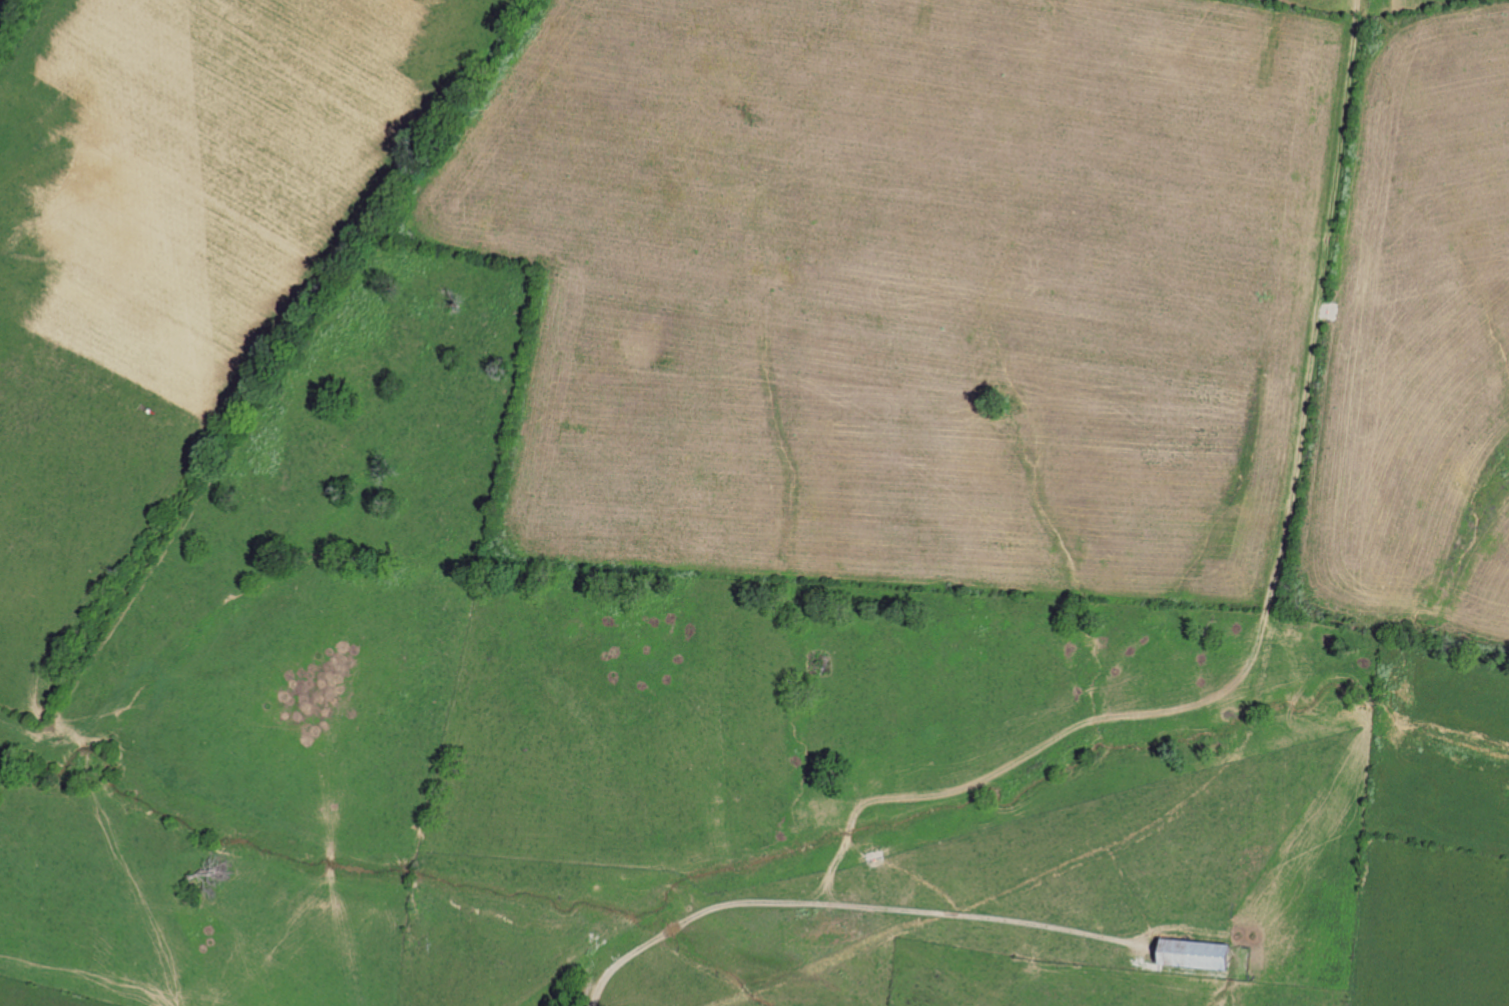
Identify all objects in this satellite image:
road: (847, 903)
building: (1197, 954)

